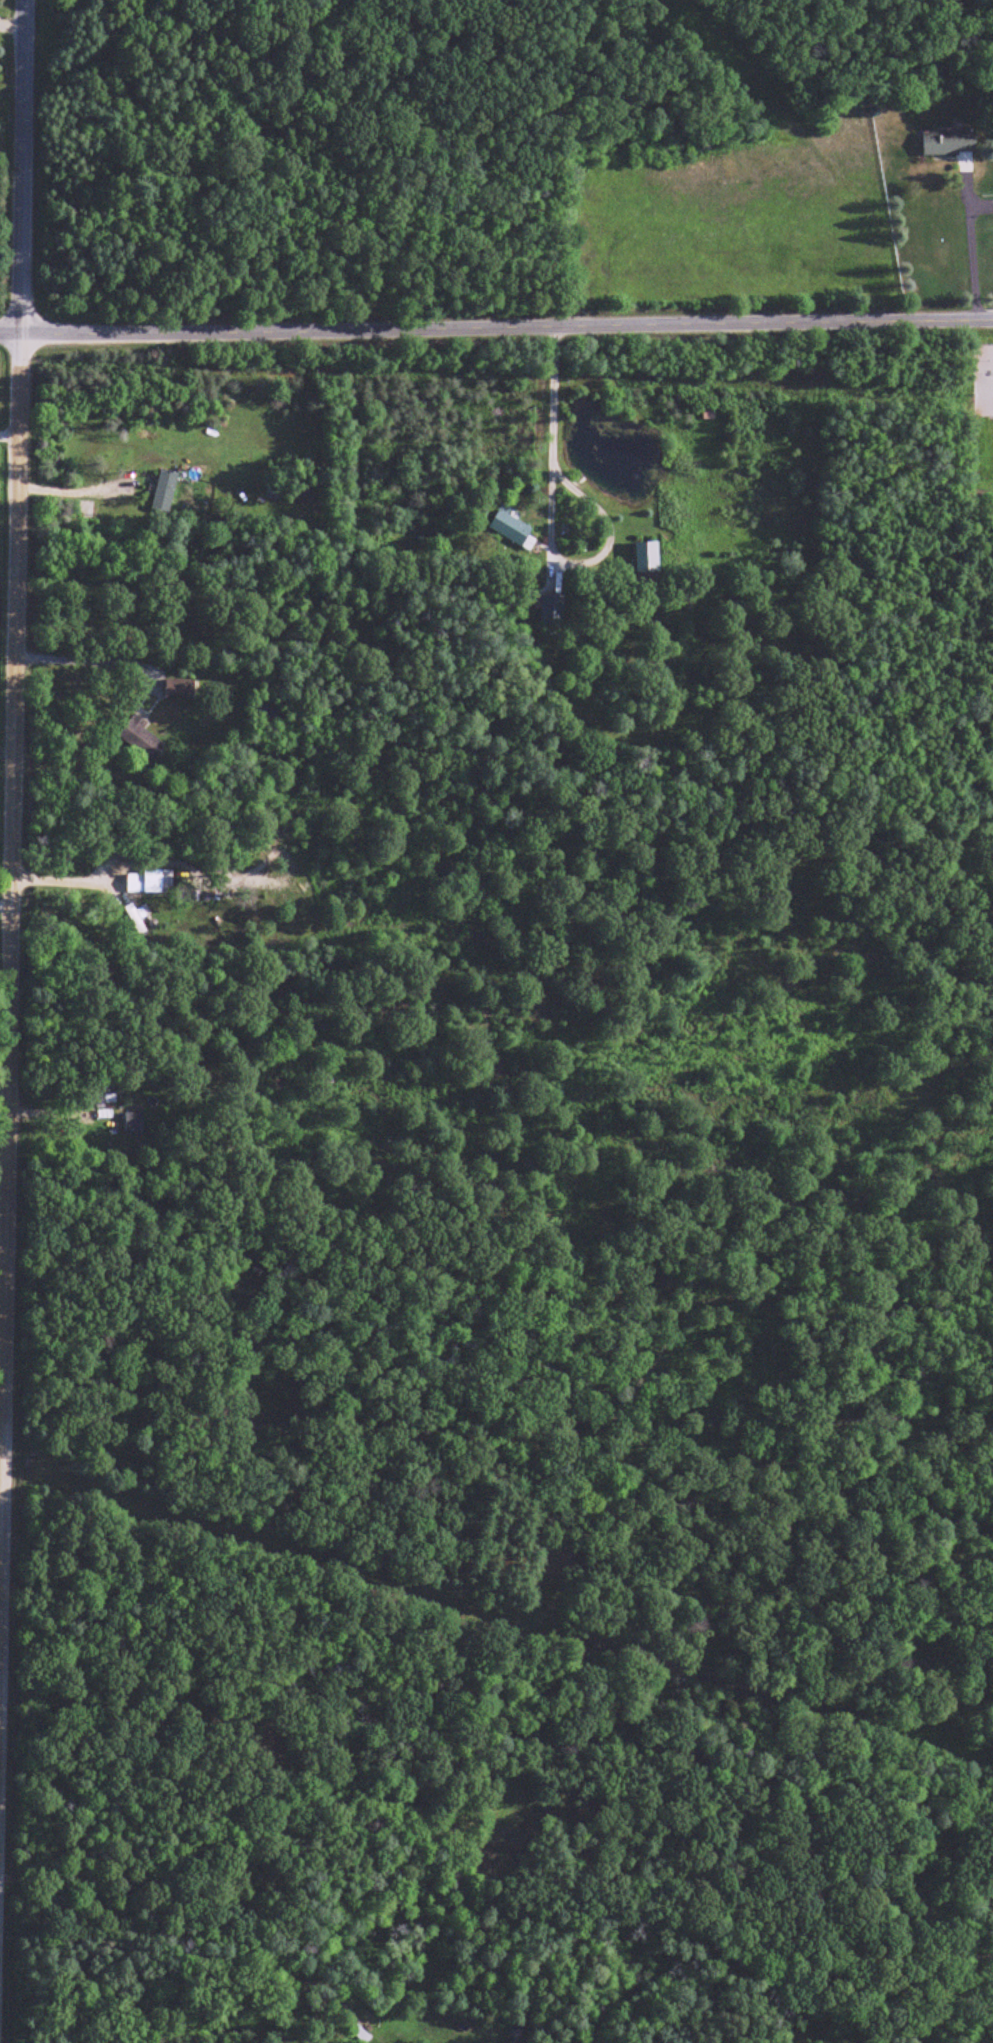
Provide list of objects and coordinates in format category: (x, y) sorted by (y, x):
building: (950, 145)
road: (23, 167)
road: (970, 241)
road: (496, 330)
building: (148, 436)
building: (165, 493)
road: (542, 522)
building: (512, 530)
building: (649, 564)
building: (553, 611)
road: (78, 658)
building: (180, 691)
building: (136, 883)
building: (136, 920)
road: (10, 957)
building: (134, 1122)
road: (3, 1256)
road: (1, 1475)
road: (243, 1536)
building: (516, 2035)

